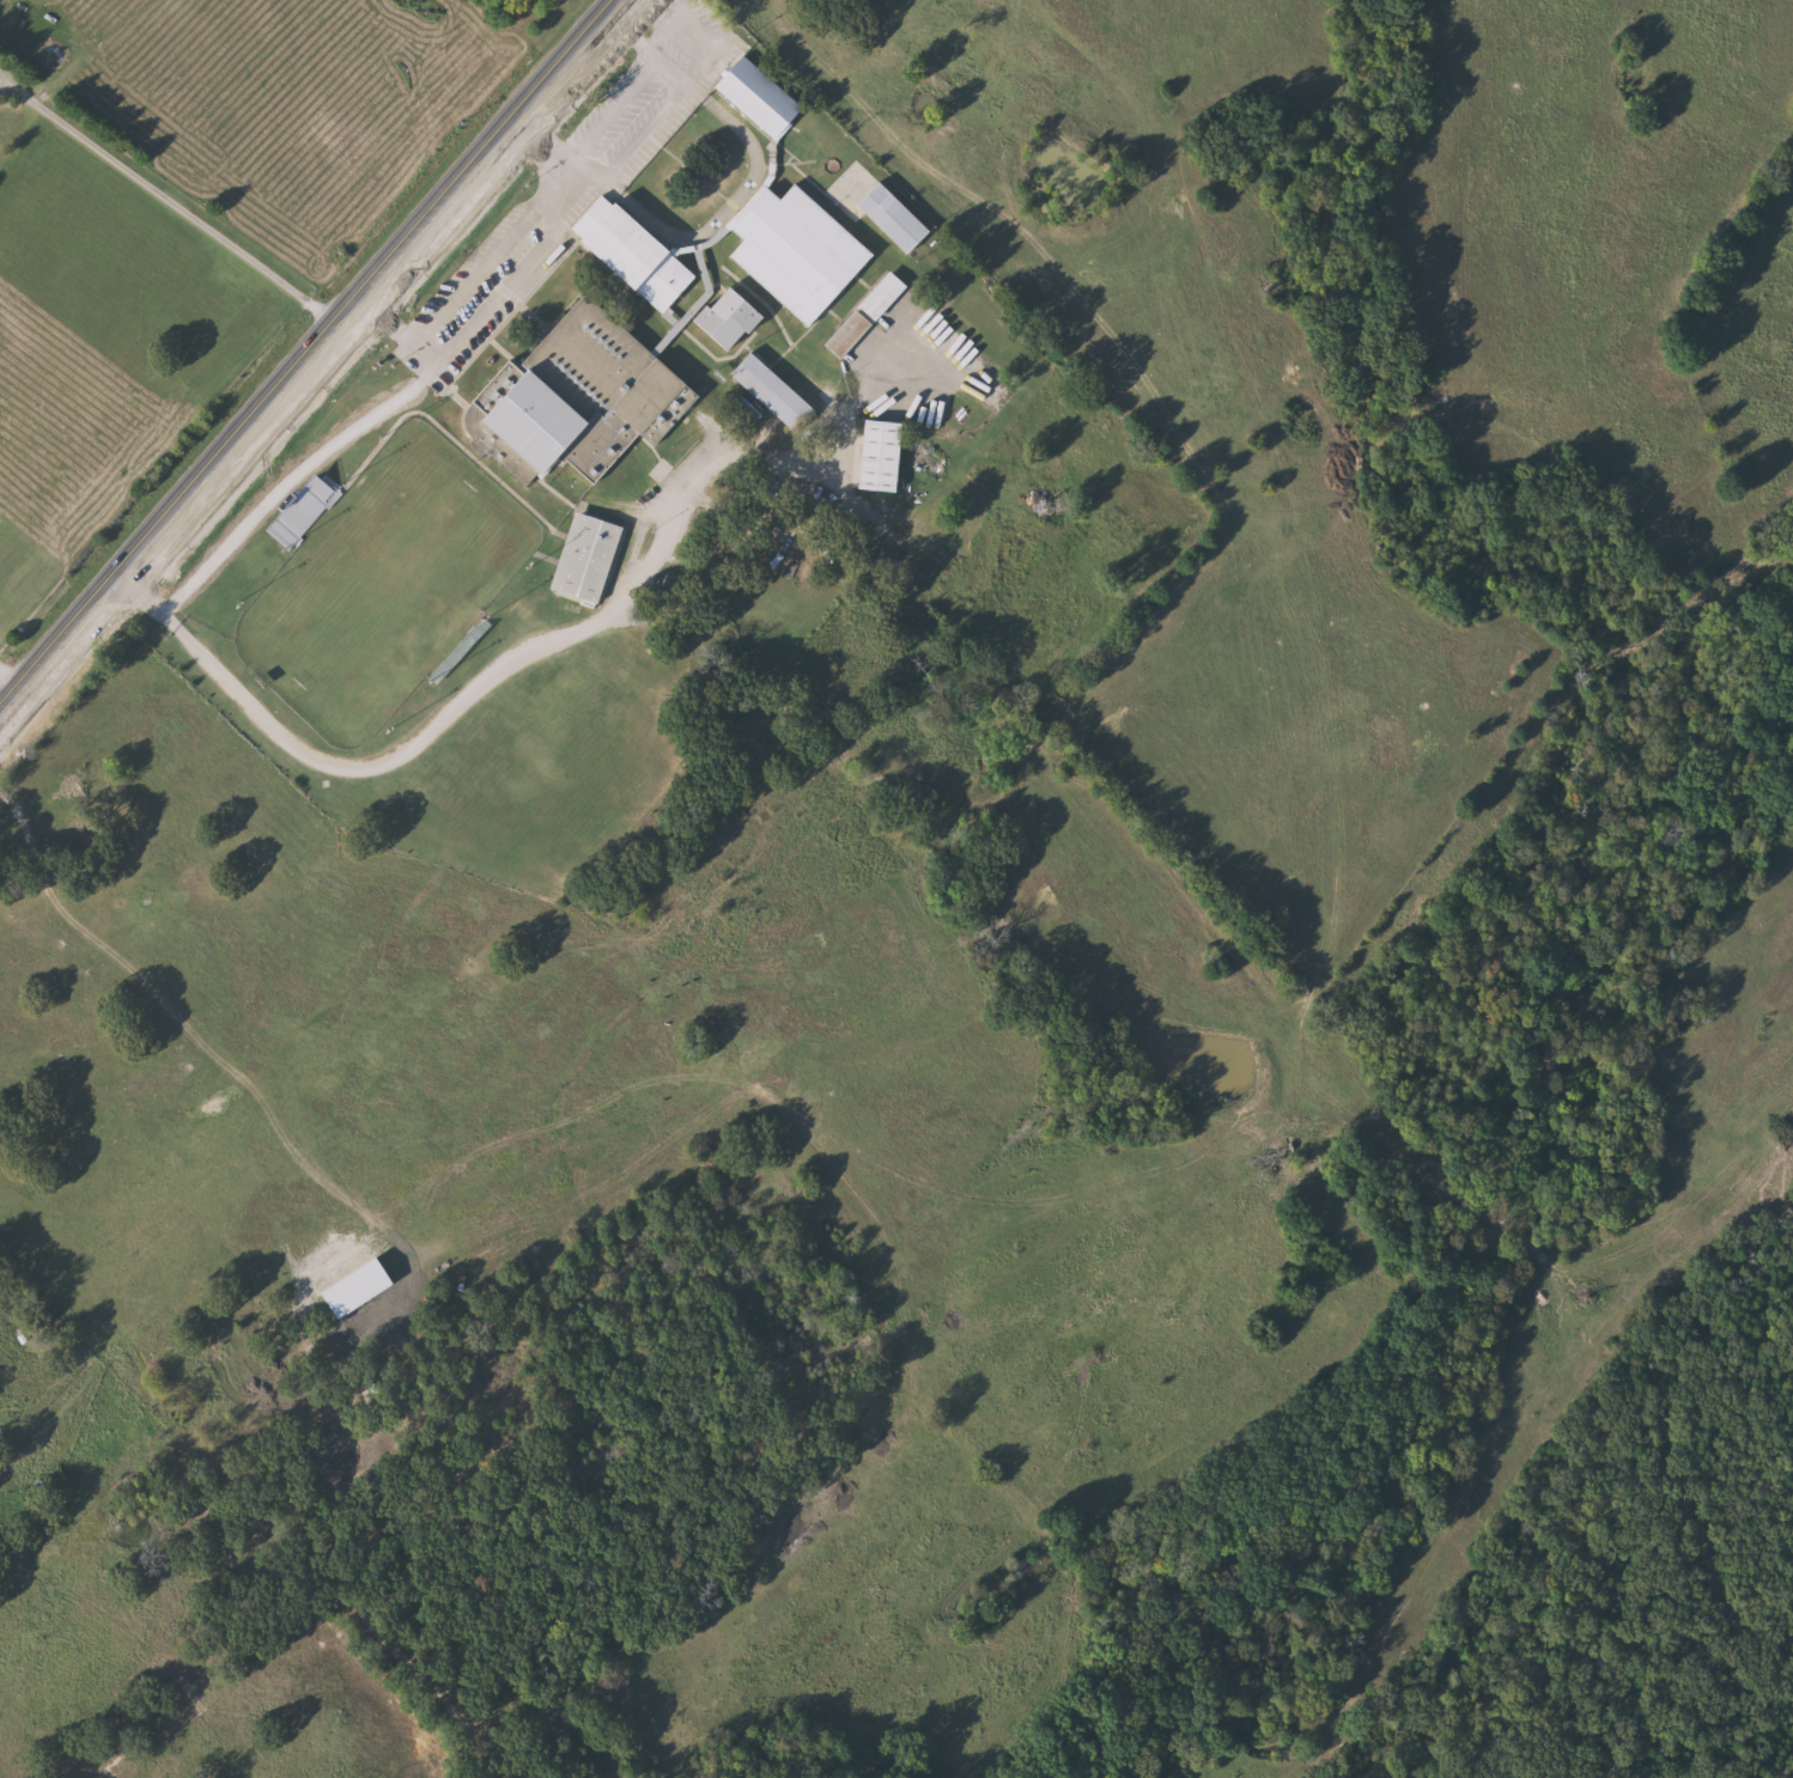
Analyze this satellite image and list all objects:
road: (680, 24)
road: (640, 83)
building: (762, 96)
road: (164, 201)
building: (896, 217)
building: (802, 250)
road: (491, 254)
building: (639, 255)
building: (886, 296)
building: (734, 316)
building: (851, 334)
road: (302, 352)
building: (776, 391)
building: (581, 398)
building: (885, 455)
building: (306, 510)
building: (590, 556)
road: (8, 678)
road: (393, 759)
building: (361, 1287)

